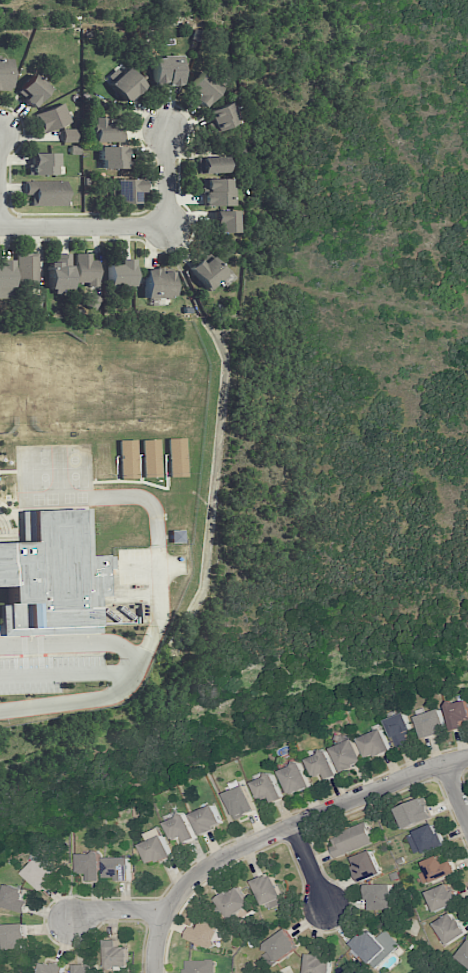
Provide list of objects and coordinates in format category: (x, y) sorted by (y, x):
building: (166, 70)
building: (4, 73)
building: (126, 85)
building: (203, 88)
building: (32, 89)
building: (222, 116)
building: (52, 117)
building: (104, 130)
building: (68, 135)
building: (112, 157)
building: (42, 164)
building: (212, 164)
road: (168, 178)
building: (125, 190)
building: (216, 191)
building: (45, 192)
building: (226, 221)
road: (84, 226)
building: (26, 268)
building: (84, 269)
building: (59, 273)
building: (120, 273)
building: (210, 273)
building: (5, 278)
building: (157, 284)
building: (176, 457)
building: (151, 458)
building: (128, 459)
building: (105, 460)
road: (153, 508)
building: (176, 536)
road: (142, 565)
building: (53, 576)
road: (73, 640)
road: (66, 674)
road: (123, 684)
building: (457, 714)
building: (431, 723)
building: (399, 729)
building: (375, 744)
building: (347, 755)
building: (322, 765)
building: (295, 778)
building: (268, 789)
road: (455, 792)
building: (240, 802)
building: (415, 813)
building: (207, 819)
building: (181, 828)
road: (278, 830)
building: (351, 839)
building: (425, 839)
building: (156, 847)
road: (308, 864)
building: (91, 865)
building: (366, 866)
building: (118, 868)
building: (436, 870)
building: (40, 874)
building: (268, 891)
building: (379, 897)
building: (442, 897)
building: (15, 899)
building: (233, 902)
road: (117, 909)
building: (449, 928)
building: (204, 934)
building: (14, 937)
building: (281, 946)
building: (375, 947)
building: (115, 954)
building: (464, 955)
building: (318, 964)
building: (199, 966)
building: (50, 968)
building: (85, 969)

